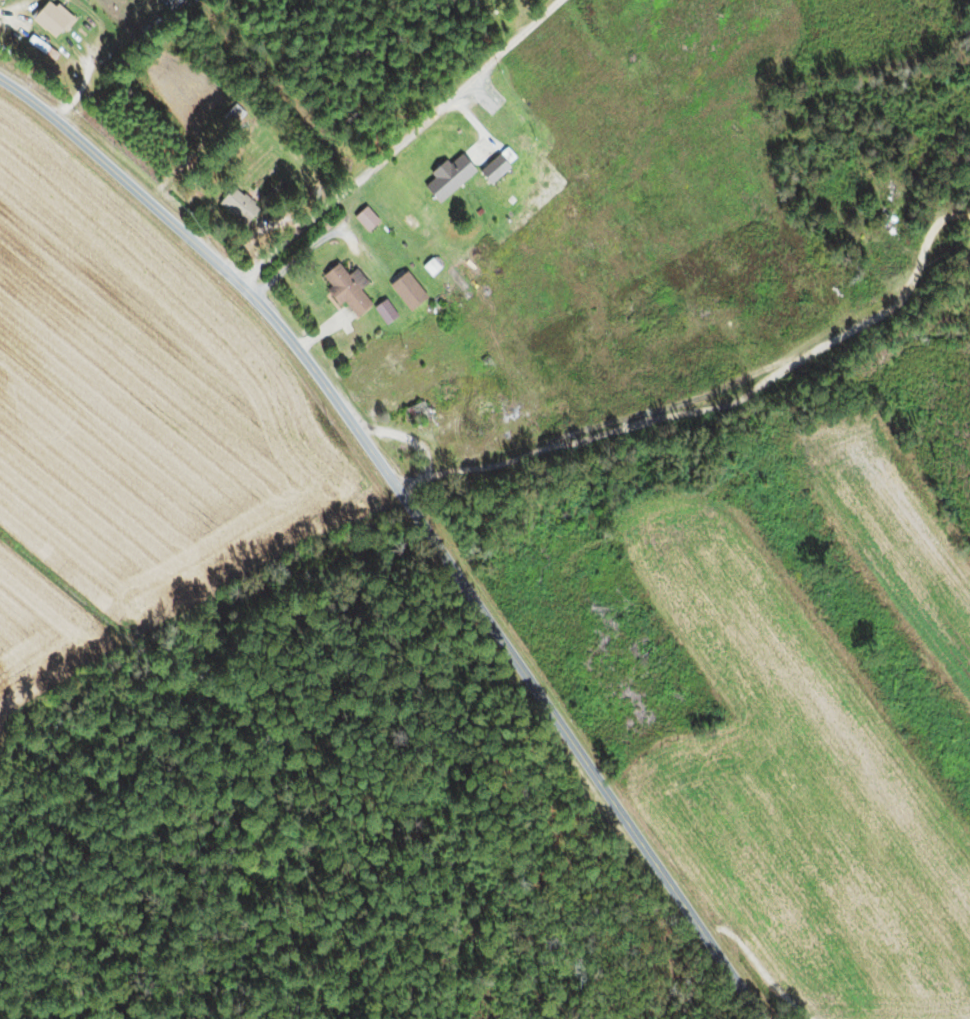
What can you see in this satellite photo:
building: (51, 20)
road: (84, 78)
building: (230, 117)
road: (400, 142)
building: (491, 169)
building: (445, 178)
building: (236, 206)
building: (364, 220)
building: (932, 261)
building: (344, 290)
building: (406, 292)
building: (383, 312)
building: (414, 415)
road: (418, 516)

